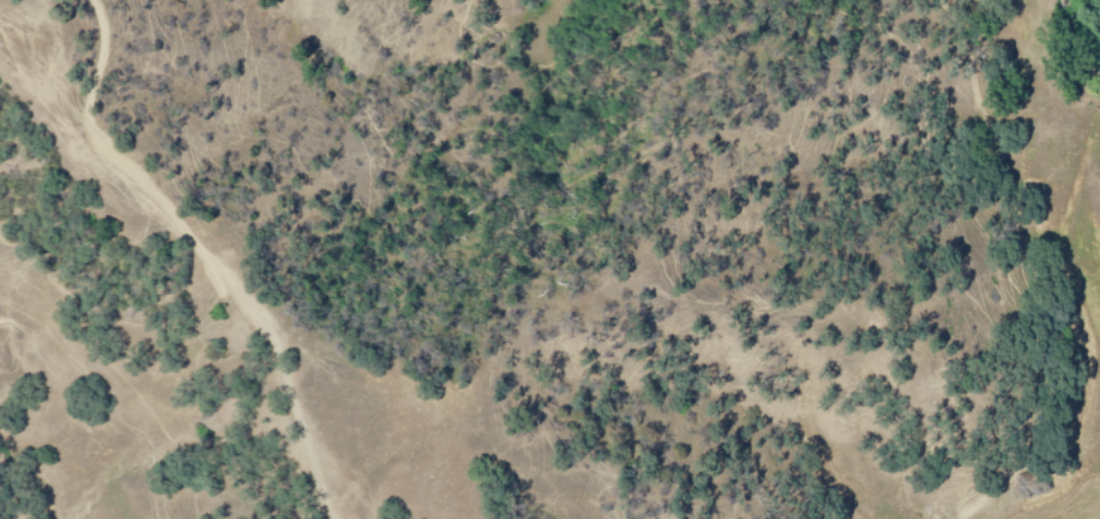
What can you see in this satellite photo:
road: (198, 255)

